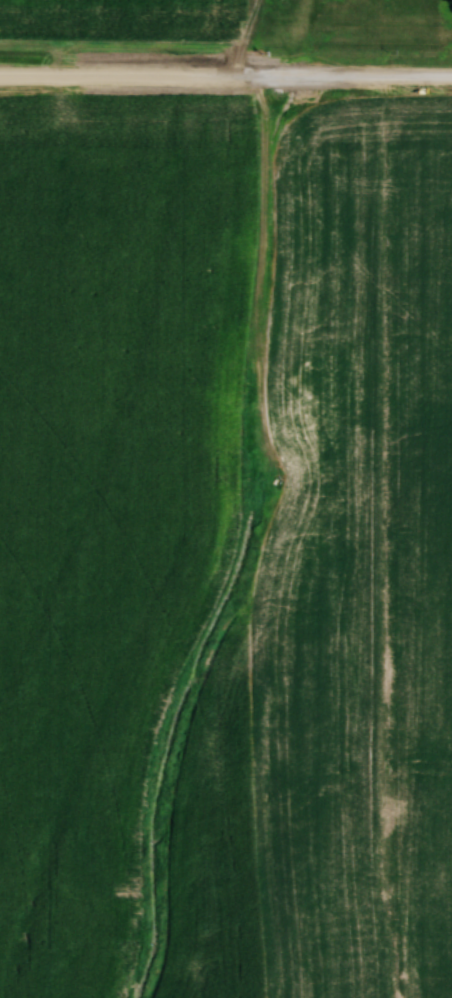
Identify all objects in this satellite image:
road: (225, 79)

